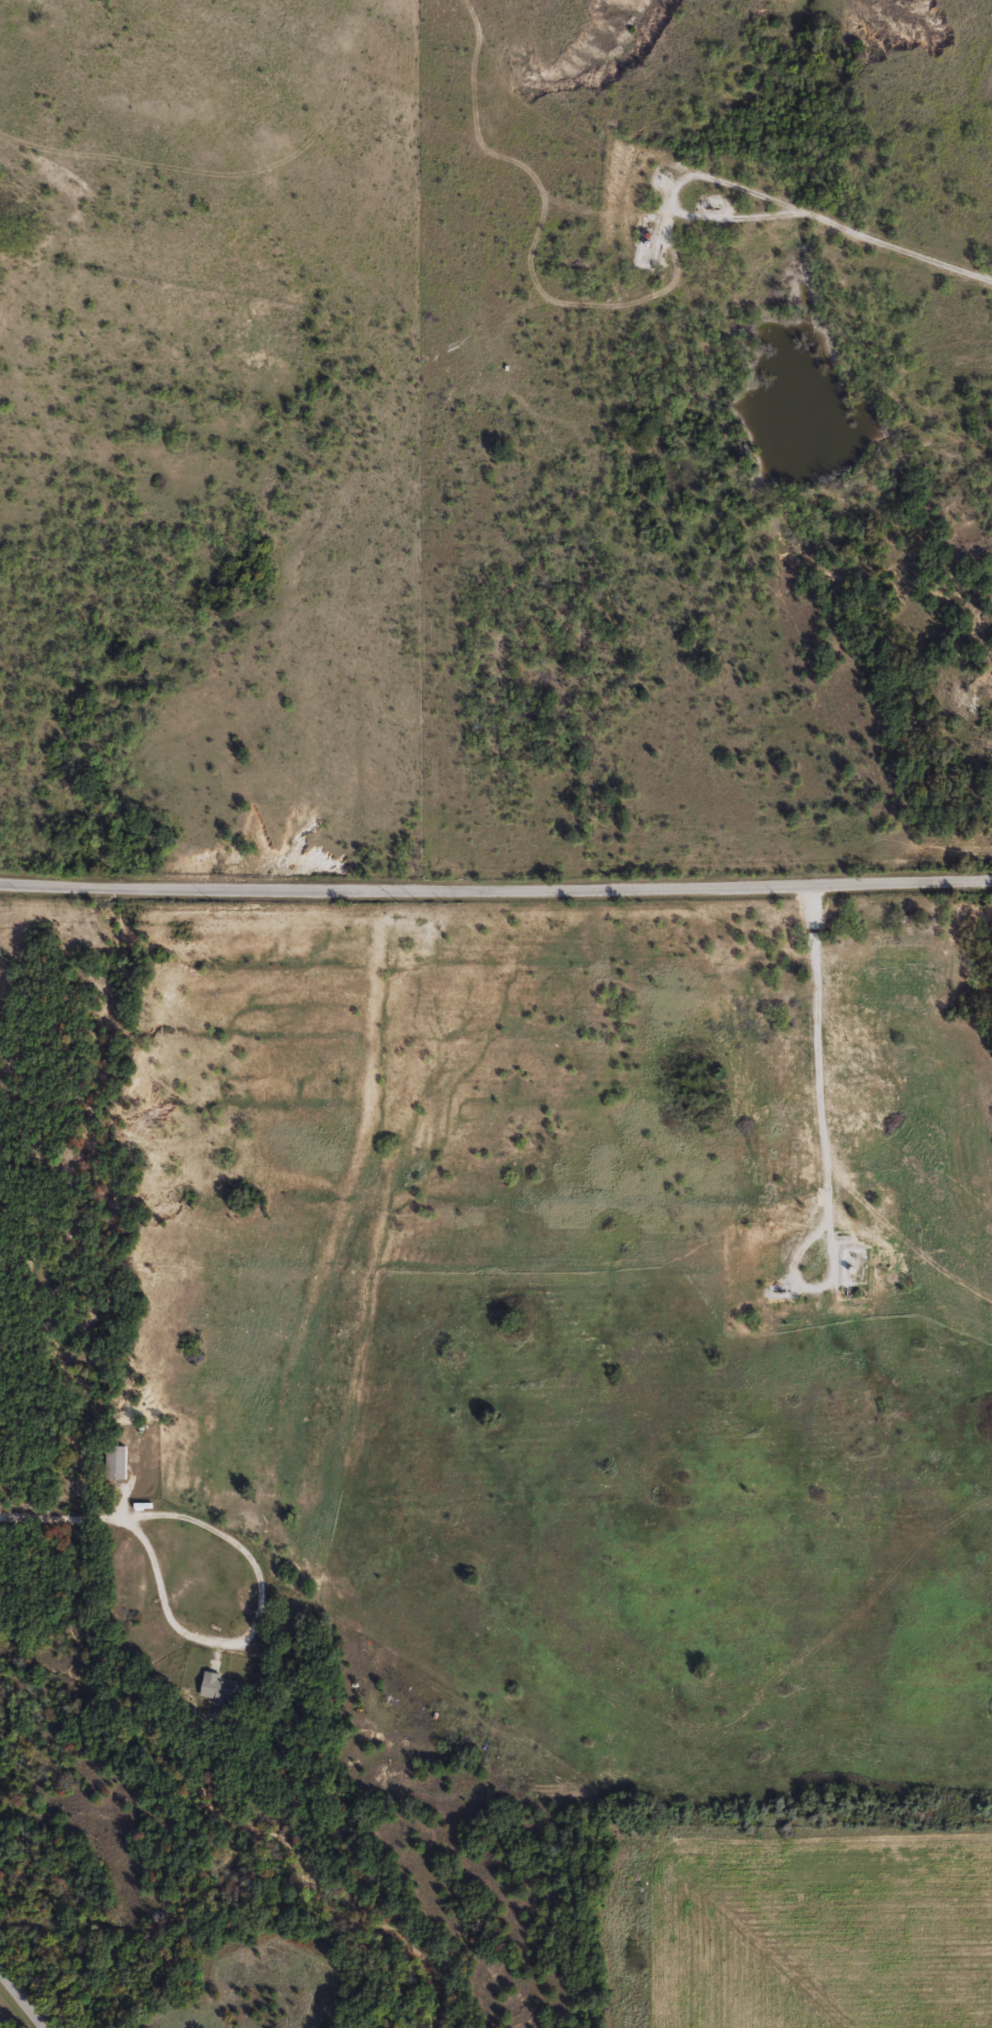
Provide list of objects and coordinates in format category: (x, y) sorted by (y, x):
road: (673, 194)
road: (898, 243)
road: (496, 883)
road: (824, 1139)
building: (114, 1462)
road: (144, 1530)
building: (222, 1690)
road: (23, 1998)

